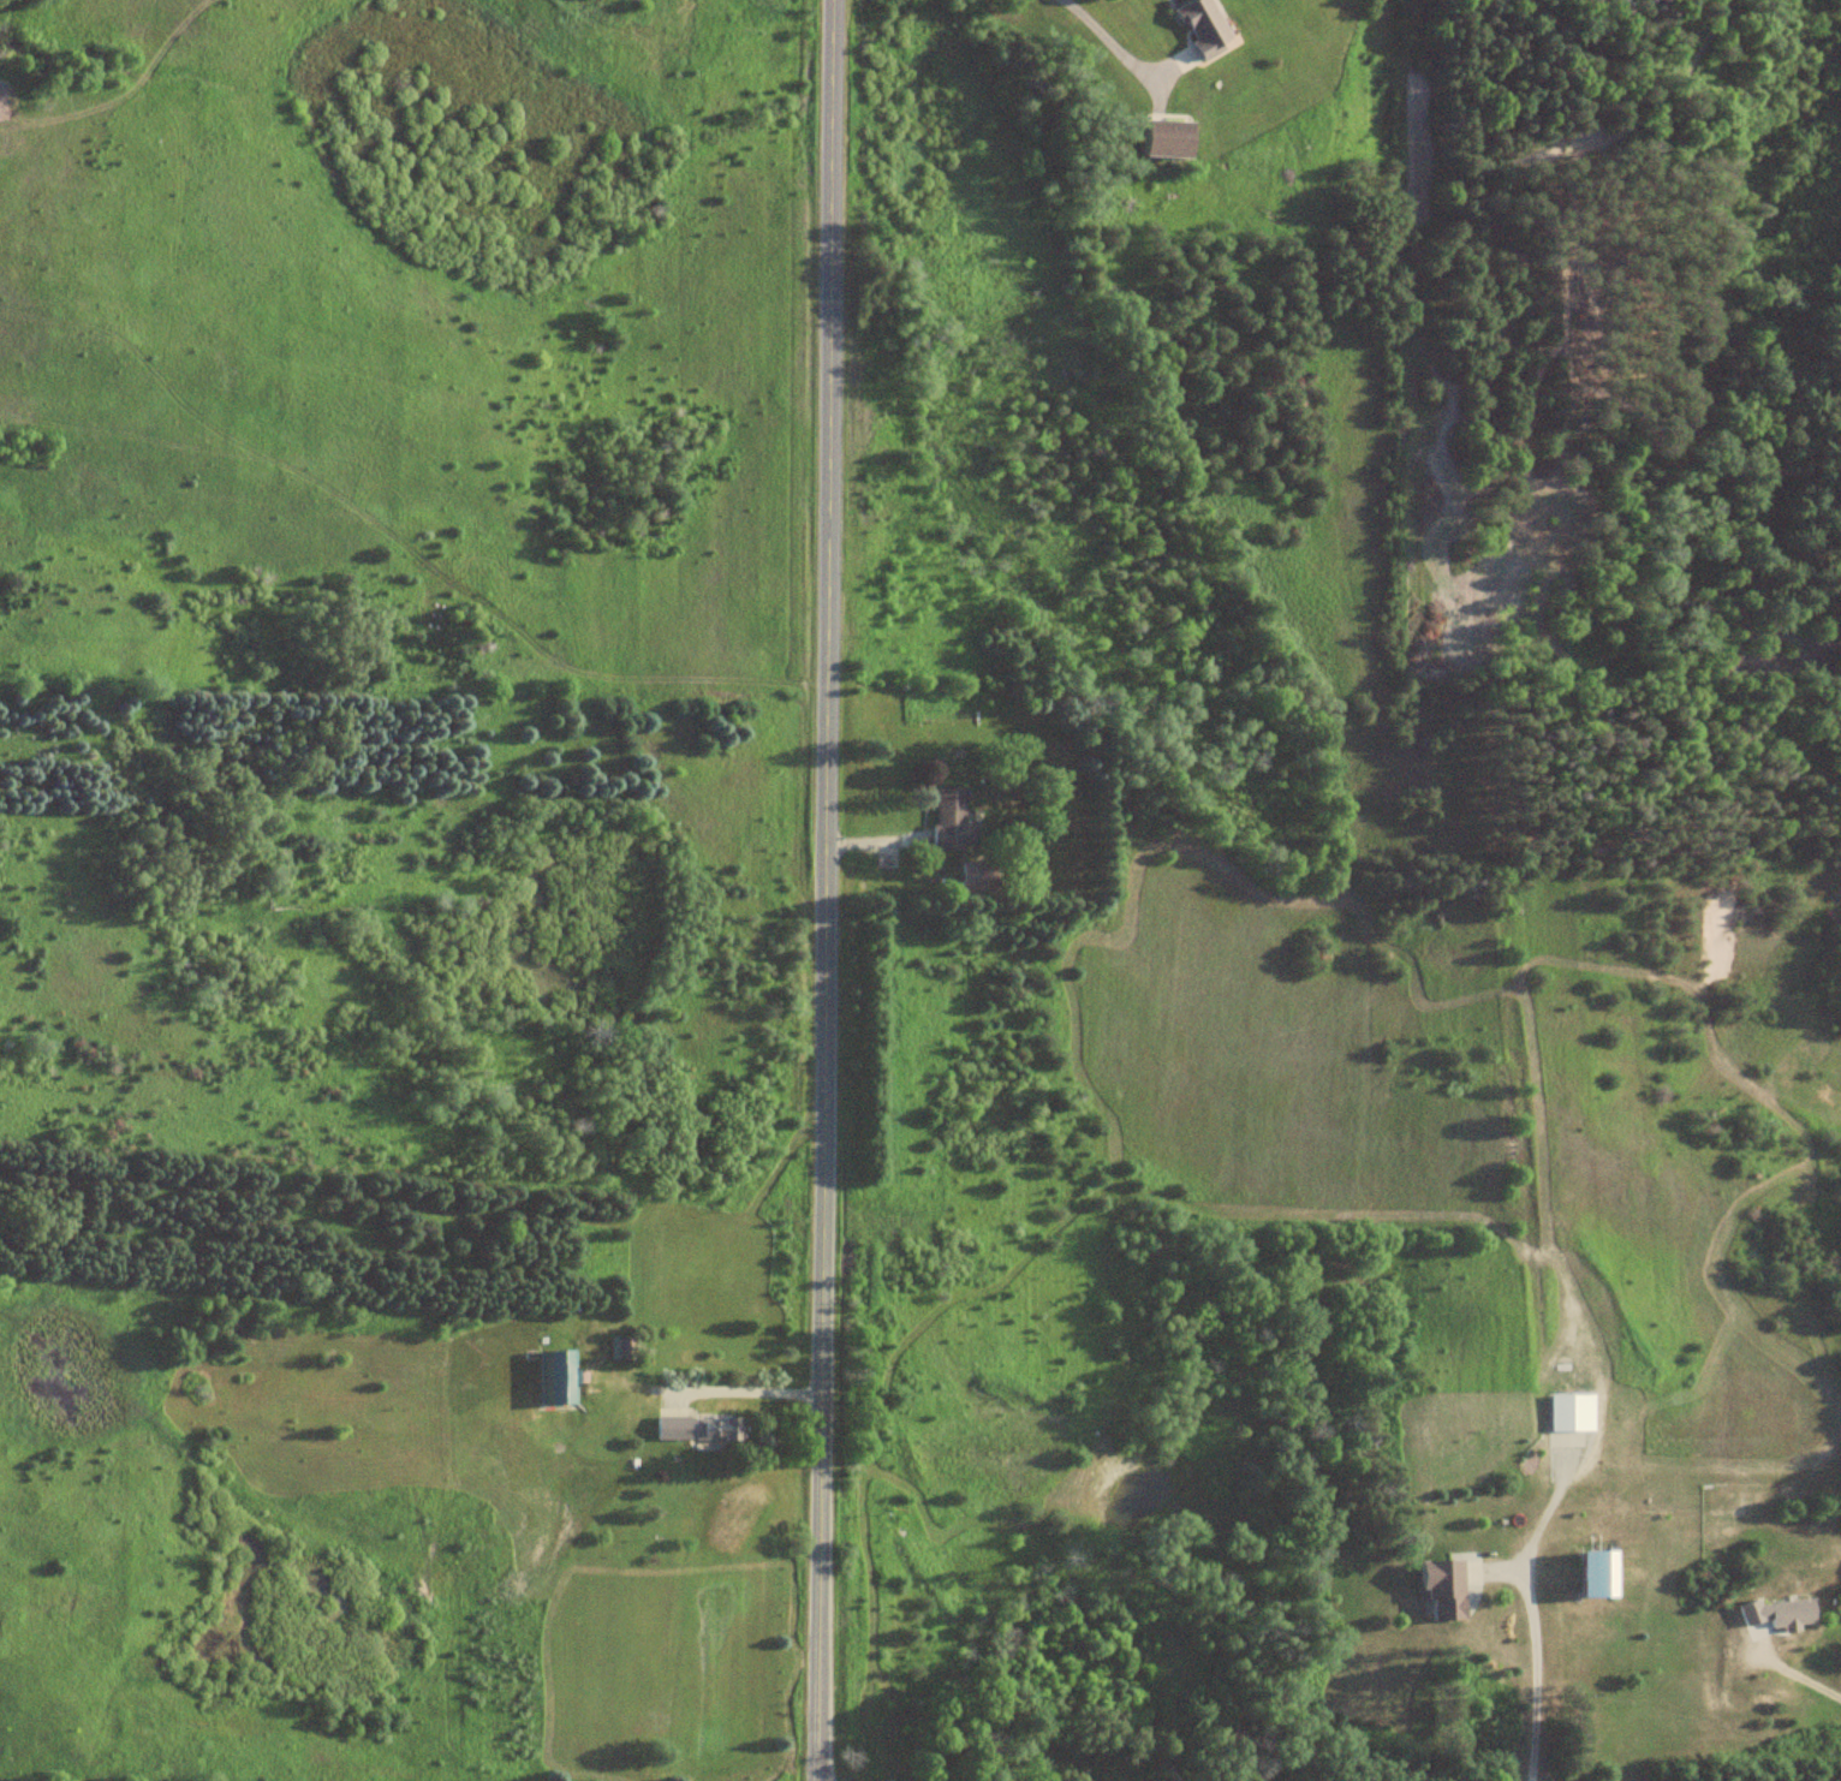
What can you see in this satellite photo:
building: (1202, 26)
building: (1170, 138)
building: (951, 818)
building: (979, 877)
road: (824, 890)
building: (560, 1376)
building: (702, 1426)
building: (1602, 1572)
building: (1446, 1589)

